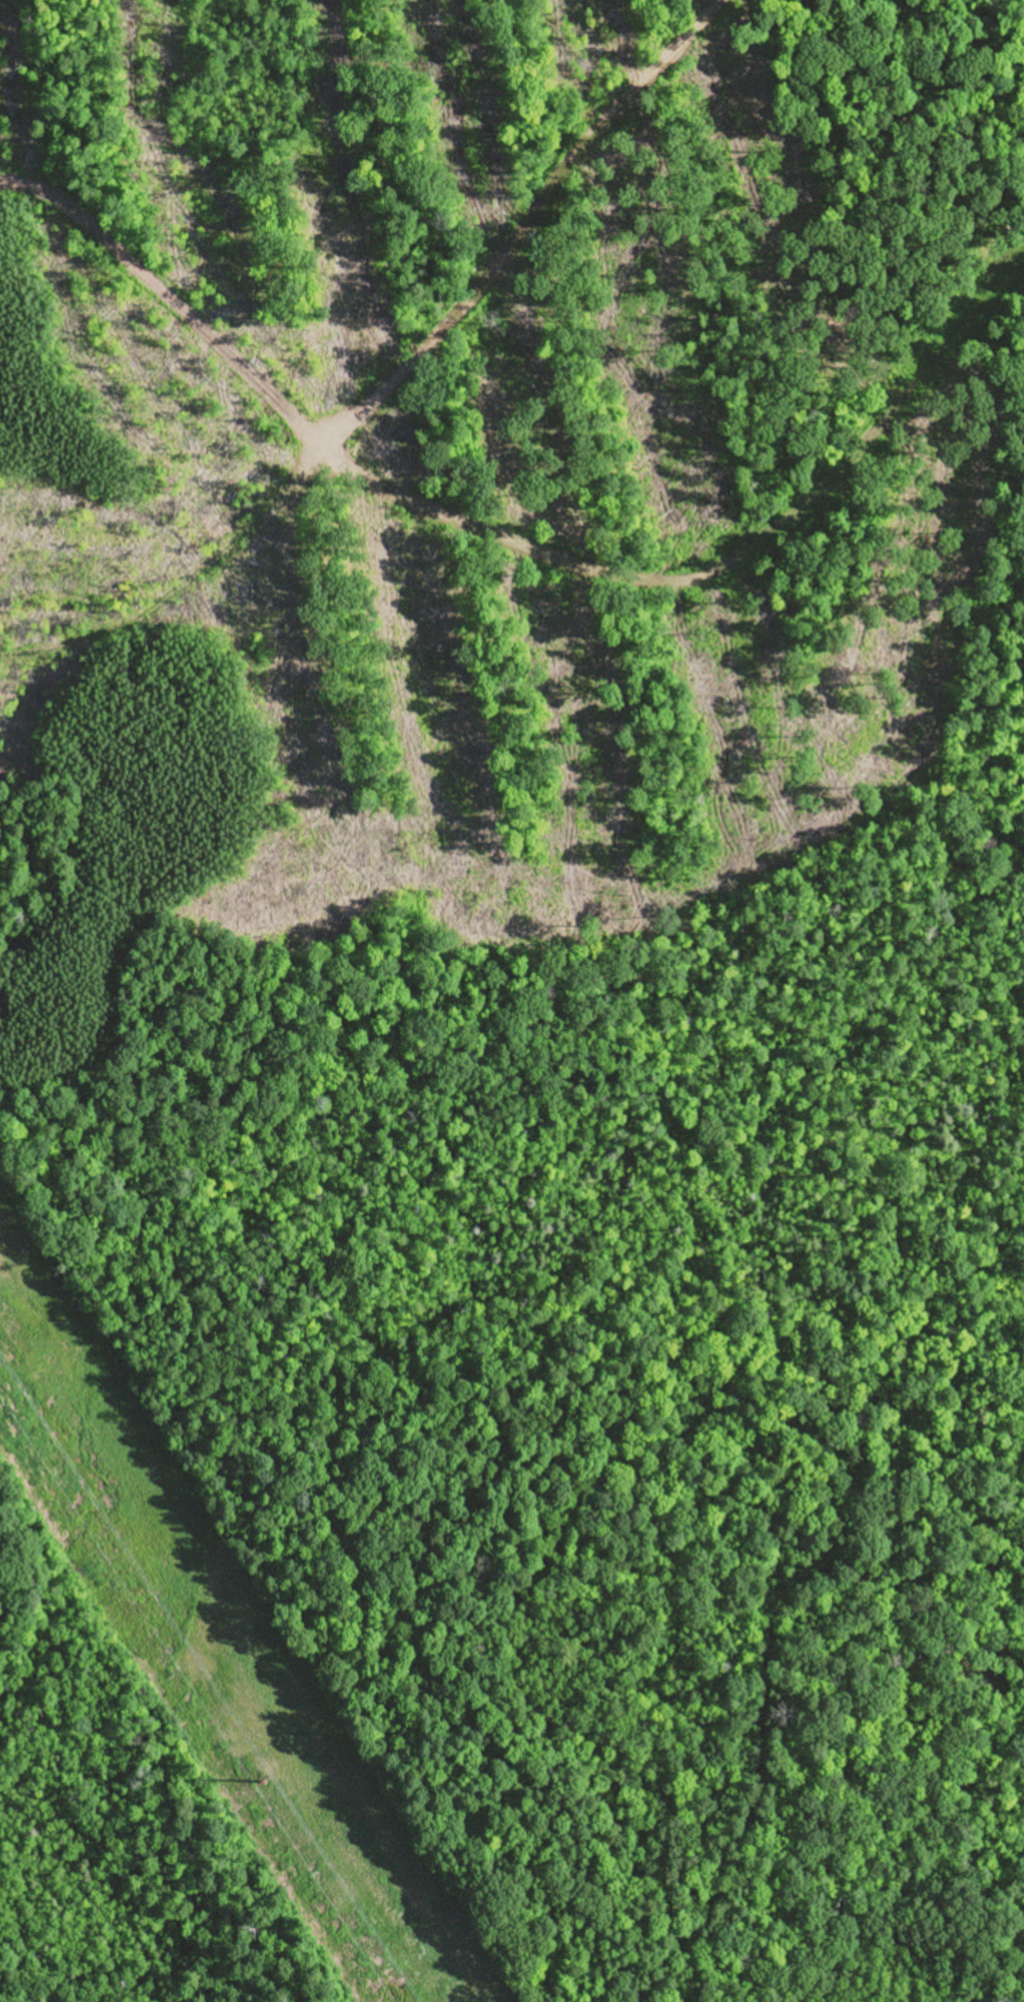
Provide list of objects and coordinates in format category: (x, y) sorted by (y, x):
power tower: (264, 1777)

